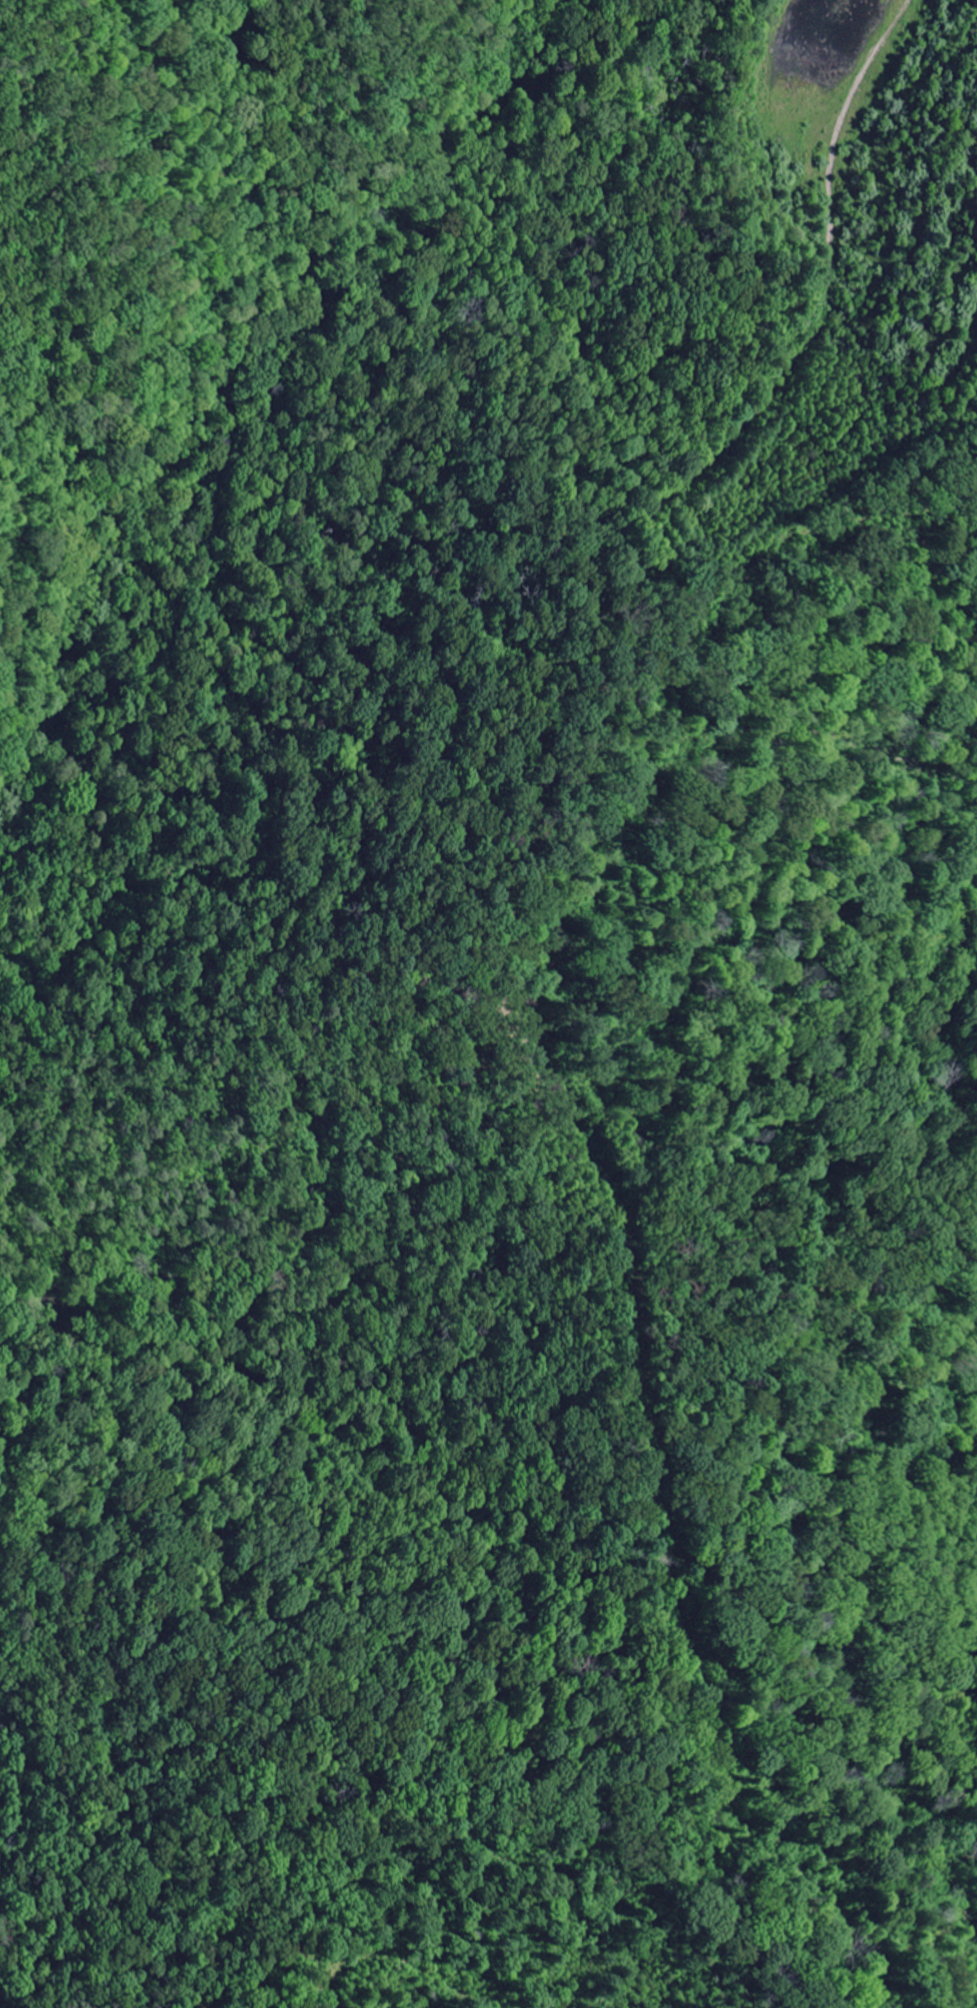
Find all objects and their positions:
road: (68, 505)
road: (599, 1167)
road: (408, 1976)

